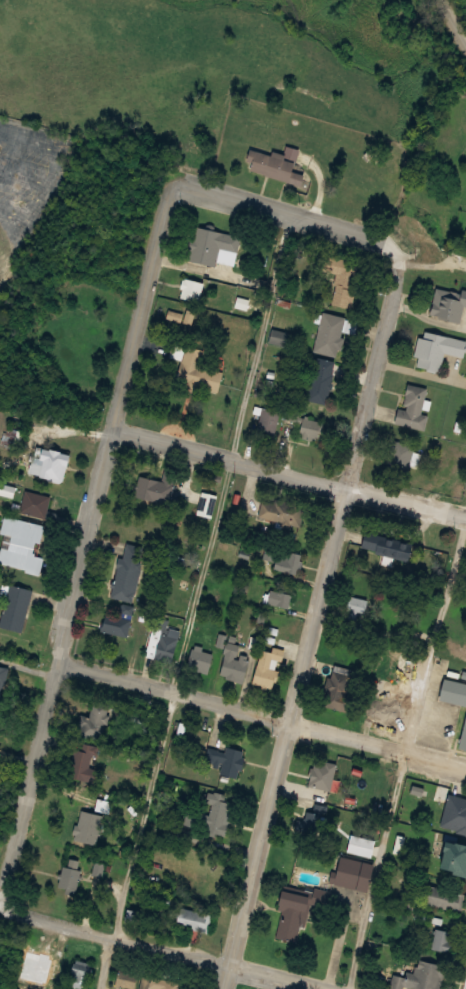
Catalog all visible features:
road: (455, 18)
building: (275, 163)
road: (286, 214)
building: (464, 217)
building: (208, 245)
building: (1, 266)
building: (339, 278)
building: (190, 290)
building: (446, 303)
building: (327, 333)
building: (278, 338)
building: (434, 350)
building: (194, 370)
building: (319, 380)
building: (409, 407)
building: (266, 422)
building: (307, 429)
building: (399, 451)
building: (47, 464)
road: (288, 473)
building: (151, 490)
building: (31, 504)
building: (204, 504)
building: (279, 512)
building: (18, 544)
building: (386, 546)
road: (84, 547)
road: (209, 554)
building: (285, 562)
building: (126, 572)
building: (278, 599)
building: (356, 604)
building: (13, 608)
road: (315, 621)
building: (108, 625)
building: (162, 639)
building: (225, 645)
building: (198, 658)
building: (266, 666)
building: (232, 668)
building: (3, 680)
building: (336, 690)
building: (453, 691)
building: (137, 714)
road: (262, 716)
building: (93, 721)
building: (463, 735)
building: (83, 756)
building: (223, 759)
road: (408, 762)
building: (322, 775)
building: (348, 801)
building: (215, 811)
building: (459, 812)
building: (121, 817)
building: (314, 818)
building: (452, 858)
building: (97, 868)
building: (353, 873)
building: (68, 875)
building: (444, 898)
building: (294, 909)
building: (192, 918)
building: (441, 939)
road: (151, 951)
building: (40, 963)
road: (109, 966)
building: (79, 971)
building: (421, 976)
building: (125, 979)
building: (156, 982)

